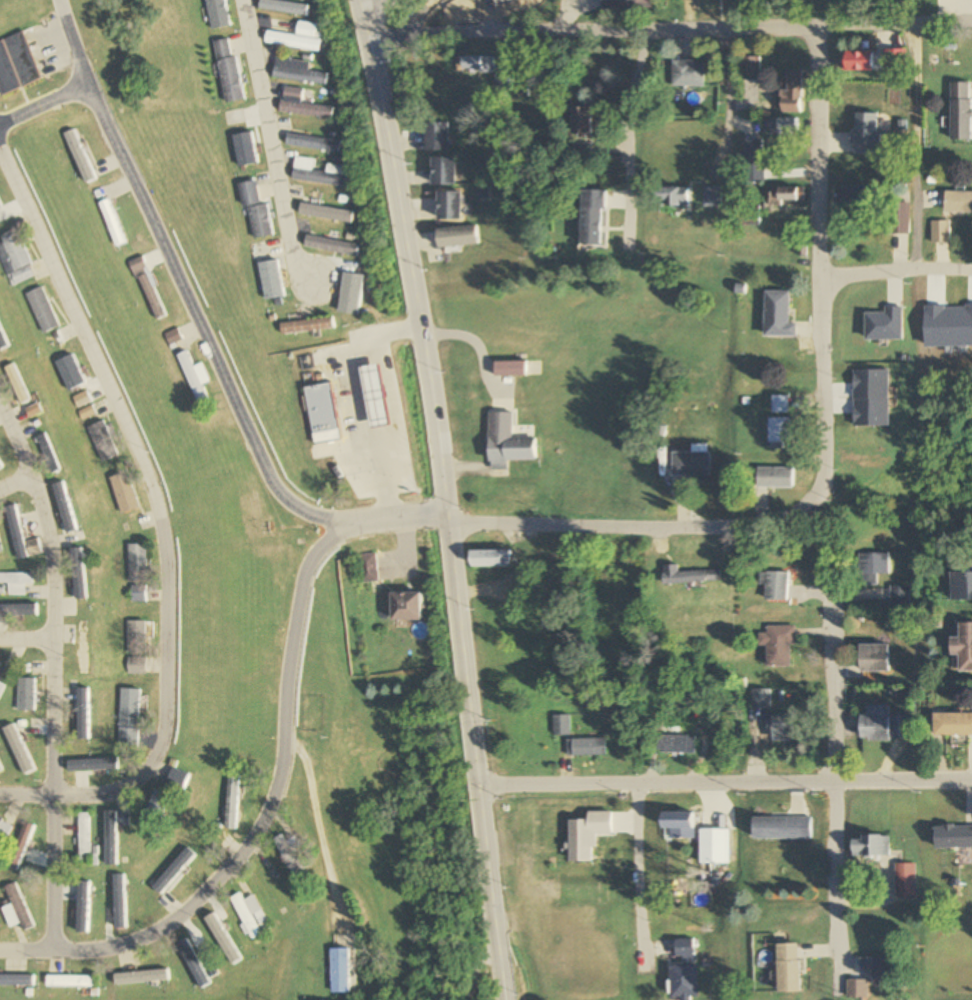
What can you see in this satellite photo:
building: (512, 1)
building: (627, 4)
building: (285, 7)
building: (217, 13)
road: (381, 14)
road: (669, 18)
building: (298, 36)
road: (74, 44)
building: (895, 60)
building: (859, 61)
building: (476, 63)
building: (17, 64)
building: (750, 68)
building: (228, 70)
building: (298, 71)
building: (688, 73)
building: (504, 86)
building: (792, 93)
building: (304, 104)
road: (43, 108)
building: (961, 111)
building: (582, 121)
building: (784, 126)
road: (626, 131)
building: (867, 133)
building: (435, 136)
road: (916, 142)
building: (314, 143)
road: (266, 144)
building: (753, 150)
building: (581, 153)
building: (442, 171)
building: (321, 173)
building: (787, 195)
building: (674, 197)
building: (713, 197)
building: (958, 202)
building: (448, 206)
building: (881, 207)
building: (256, 210)
building: (748, 215)
building: (112, 223)
building: (591, 226)
building: (941, 231)
building: (457, 237)
building: (332, 246)
building: (16, 259)
road: (407, 259)
road: (896, 269)
building: (269, 275)
building: (148, 288)
road: (821, 298)
building: (43, 310)
building: (778, 315)
road: (198, 325)
building: (307, 326)
building: (172, 337)
building: (859, 342)
building: (508, 369)
building: (70, 370)
building: (192, 377)
building: (17, 384)
building: (376, 396)
building: (82, 400)
building: (781, 405)
building: (321, 408)
building: (33, 410)
building: (86, 413)
building: (781, 434)
building: (103, 442)
building: (511, 451)
building: (48, 454)
building: (692, 462)
building: (776, 479)
road: (15, 487)
building: (124, 493)
road: (396, 524)
road: (165, 525)
road: (599, 525)
building: (17, 531)
building: (34, 547)
building: (491, 559)
building: (136, 563)
building: (368, 568)
building: (873, 568)
building: (688, 576)
building: (16, 582)
building: (775, 586)
building: (962, 586)
building: (137, 594)
building: (899, 596)
building: (406, 607)
building: (136, 637)
road: (27, 642)
building: (779, 646)
building: (963, 649)
building: (875, 658)
building: (136, 665)
road: (54, 675)
building: (1, 687)
building: (25, 695)
building: (761, 699)
building: (129, 718)
building: (875, 723)
building: (953, 724)
building: (782, 728)
building: (675, 739)
building: (589, 747)
road: (476, 760)
building: (0, 770)
building: (179, 780)
road: (725, 780)
road: (836, 785)
road: (273, 798)
building: (155, 812)
building: (680, 825)
building: (778, 828)
building: (4, 830)
building: (588, 835)
building: (83, 837)
building: (953, 837)
building: (713, 846)
building: (871, 846)
building: (292, 854)
building: (904, 880)
road: (641, 881)
building: (16, 909)
building: (249, 914)
building: (0, 927)
road: (27, 950)
building: (195, 969)
building: (789, 969)
building: (341, 971)
building: (884, 972)
building: (69, 981)
building: (683, 982)
building: (13, 985)

